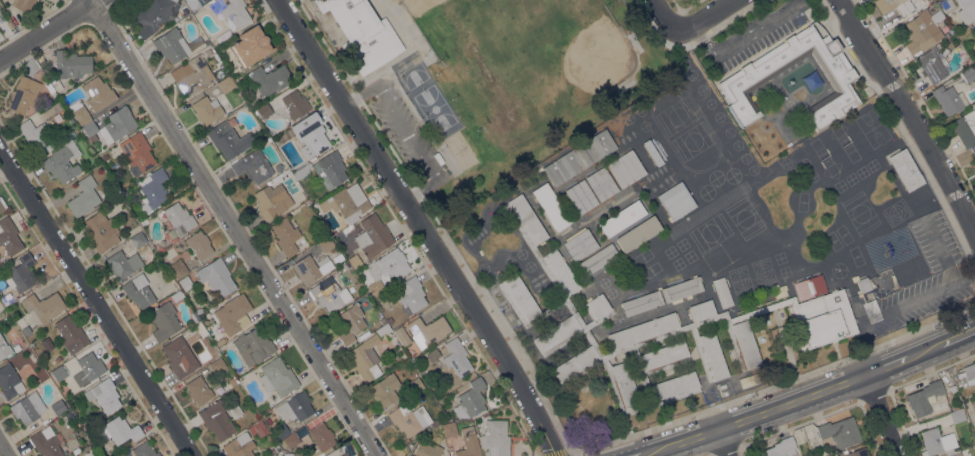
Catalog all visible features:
building: (194, 3)
building: (23, 5)
building: (946, 5)
road: (685, 8)
building: (966, 11)
building: (231, 12)
building: (887, 12)
building: (156, 13)
road: (666, 18)
road: (706, 18)
park: (460, 21)
building: (179, 24)
building: (9, 25)
road: (46, 29)
road: (409, 31)
building: (923, 31)
building: (362, 33)
building: (141, 39)
road: (692, 44)
building: (171, 45)
building: (250, 46)
park: (525, 61)
building: (71, 64)
building: (931, 66)
road: (387, 69)
park: (542, 70)
building: (968, 75)
building: (191, 76)
park: (485, 77)
building: (269, 79)
building: (740, 80)
building: (225, 85)
building: (98, 93)
building: (23, 95)
road: (918, 95)
park: (428, 100)
building: (949, 100)
building: (294, 104)
building: (206, 110)
building: (264, 110)
building: (227, 112)
road: (909, 112)
building: (79, 113)
building: (111, 126)
building: (965, 128)
parking lot: (403, 131)
road: (902, 131)
road: (406, 134)
building: (310, 135)
building: (36, 136)
building: (229, 138)
road: (431, 138)
building: (137, 152)
building: (652, 153)
building: (974, 153)
building: (104, 157)
building: (578, 157)
building: (62, 162)
building: (279, 166)
building: (252, 167)
building: (329, 169)
building: (625, 169)
building: (905, 169)
building: (302, 171)
building: (601, 184)
building: (154, 189)
building: (581, 197)
building: (83, 198)
building: (272, 201)
building: (675, 201)
building: (346, 203)
building: (3, 206)
building: (550, 207)
building: (179, 218)
building: (621, 218)
road: (420, 226)
road: (235, 227)
building: (100, 231)
building: (638, 233)
building: (285, 236)
building: (372, 236)
building: (9, 237)
building: (139, 239)
building: (198, 244)
building: (326, 244)
building: (579, 245)
building: (596, 259)
building: (123, 264)
building: (314, 267)
building: (178, 269)
building: (385, 269)
building: (21, 274)
building: (215, 277)
building: (185, 283)
building: (863, 284)
building: (808, 286)
building: (681, 289)
building: (138, 291)
building: (722, 292)
building: (329, 294)
building: (409, 294)
building: (176, 296)
building: (641, 303)
road: (97, 304)
building: (42, 307)
road: (896, 307)
building: (233, 314)
building: (194, 317)
building: (389, 320)
building: (164, 321)
building: (350, 323)
building: (654, 328)
building: (199, 329)
building: (428, 331)
building: (70, 334)
building: (402, 335)
building: (219, 342)
building: (254, 345)
building: (4, 349)
building: (179, 357)
building: (456, 357)
building: (365, 358)
building: (58, 359)
building: (217, 366)
building: (87, 369)
building: (58, 374)
building: (967, 374)
building: (277, 377)
building: (9, 381)
building: (414, 385)
building: (384, 390)
building: (198, 391)
building: (104, 395)
road: (811, 398)
building: (923, 398)
building: (470, 400)
road: (548, 406)
building: (57, 407)
building: (295, 407)
building: (27, 408)
building: (234, 410)
road: (887, 416)
building: (957, 416)
building: (216, 419)
building: (404, 419)
building: (427, 427)
building: (449, 429)
building: (257, 430)
building: (118, 431)
building: (280, 431)
building: (839, 432)
building: (295, 436)
building: (495, 438)
building: (321, 440)
building: (46, 442)
building: (936, 442)
building: (468, 443)
road: (723, 443)
building: (239, 446)
building: (780, 448)
road: (3, 450)
building: (144, 450)
building: (273, 450)
building: (426, 450)
building: (75, 451)
building: (856, 453)
building: (267, 454)
building: (287, 454)
building: (329, 454)
building: (339, 454)
building: (344, 454)
building: (957, 455)

